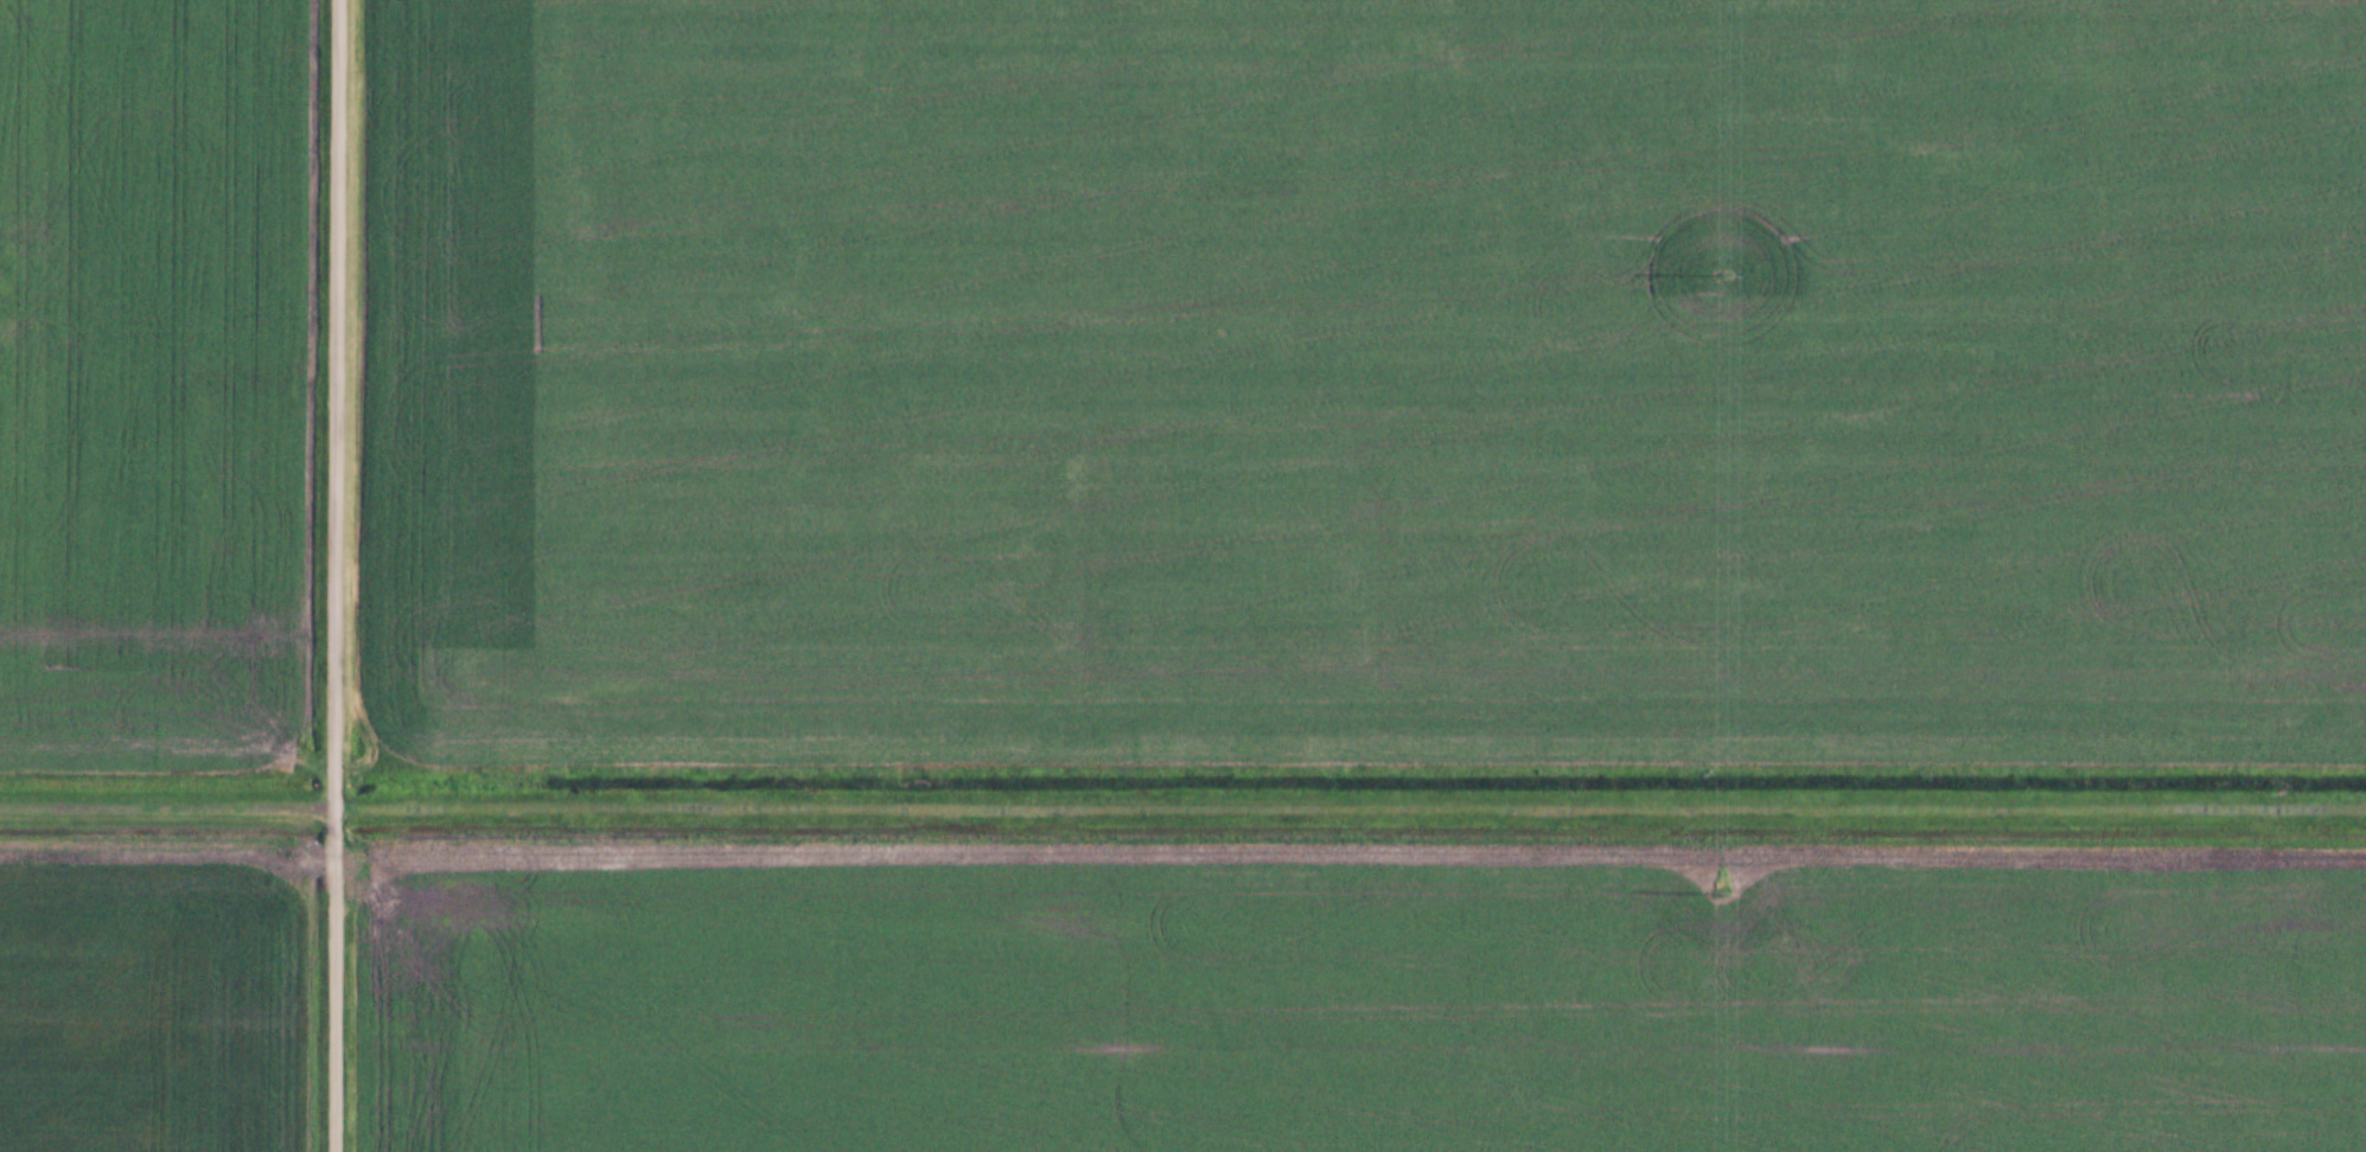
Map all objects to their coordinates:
power tower: (1718, 275)
road: (337, 576)
road: (168, 796)
power tower: (1717, 891)

